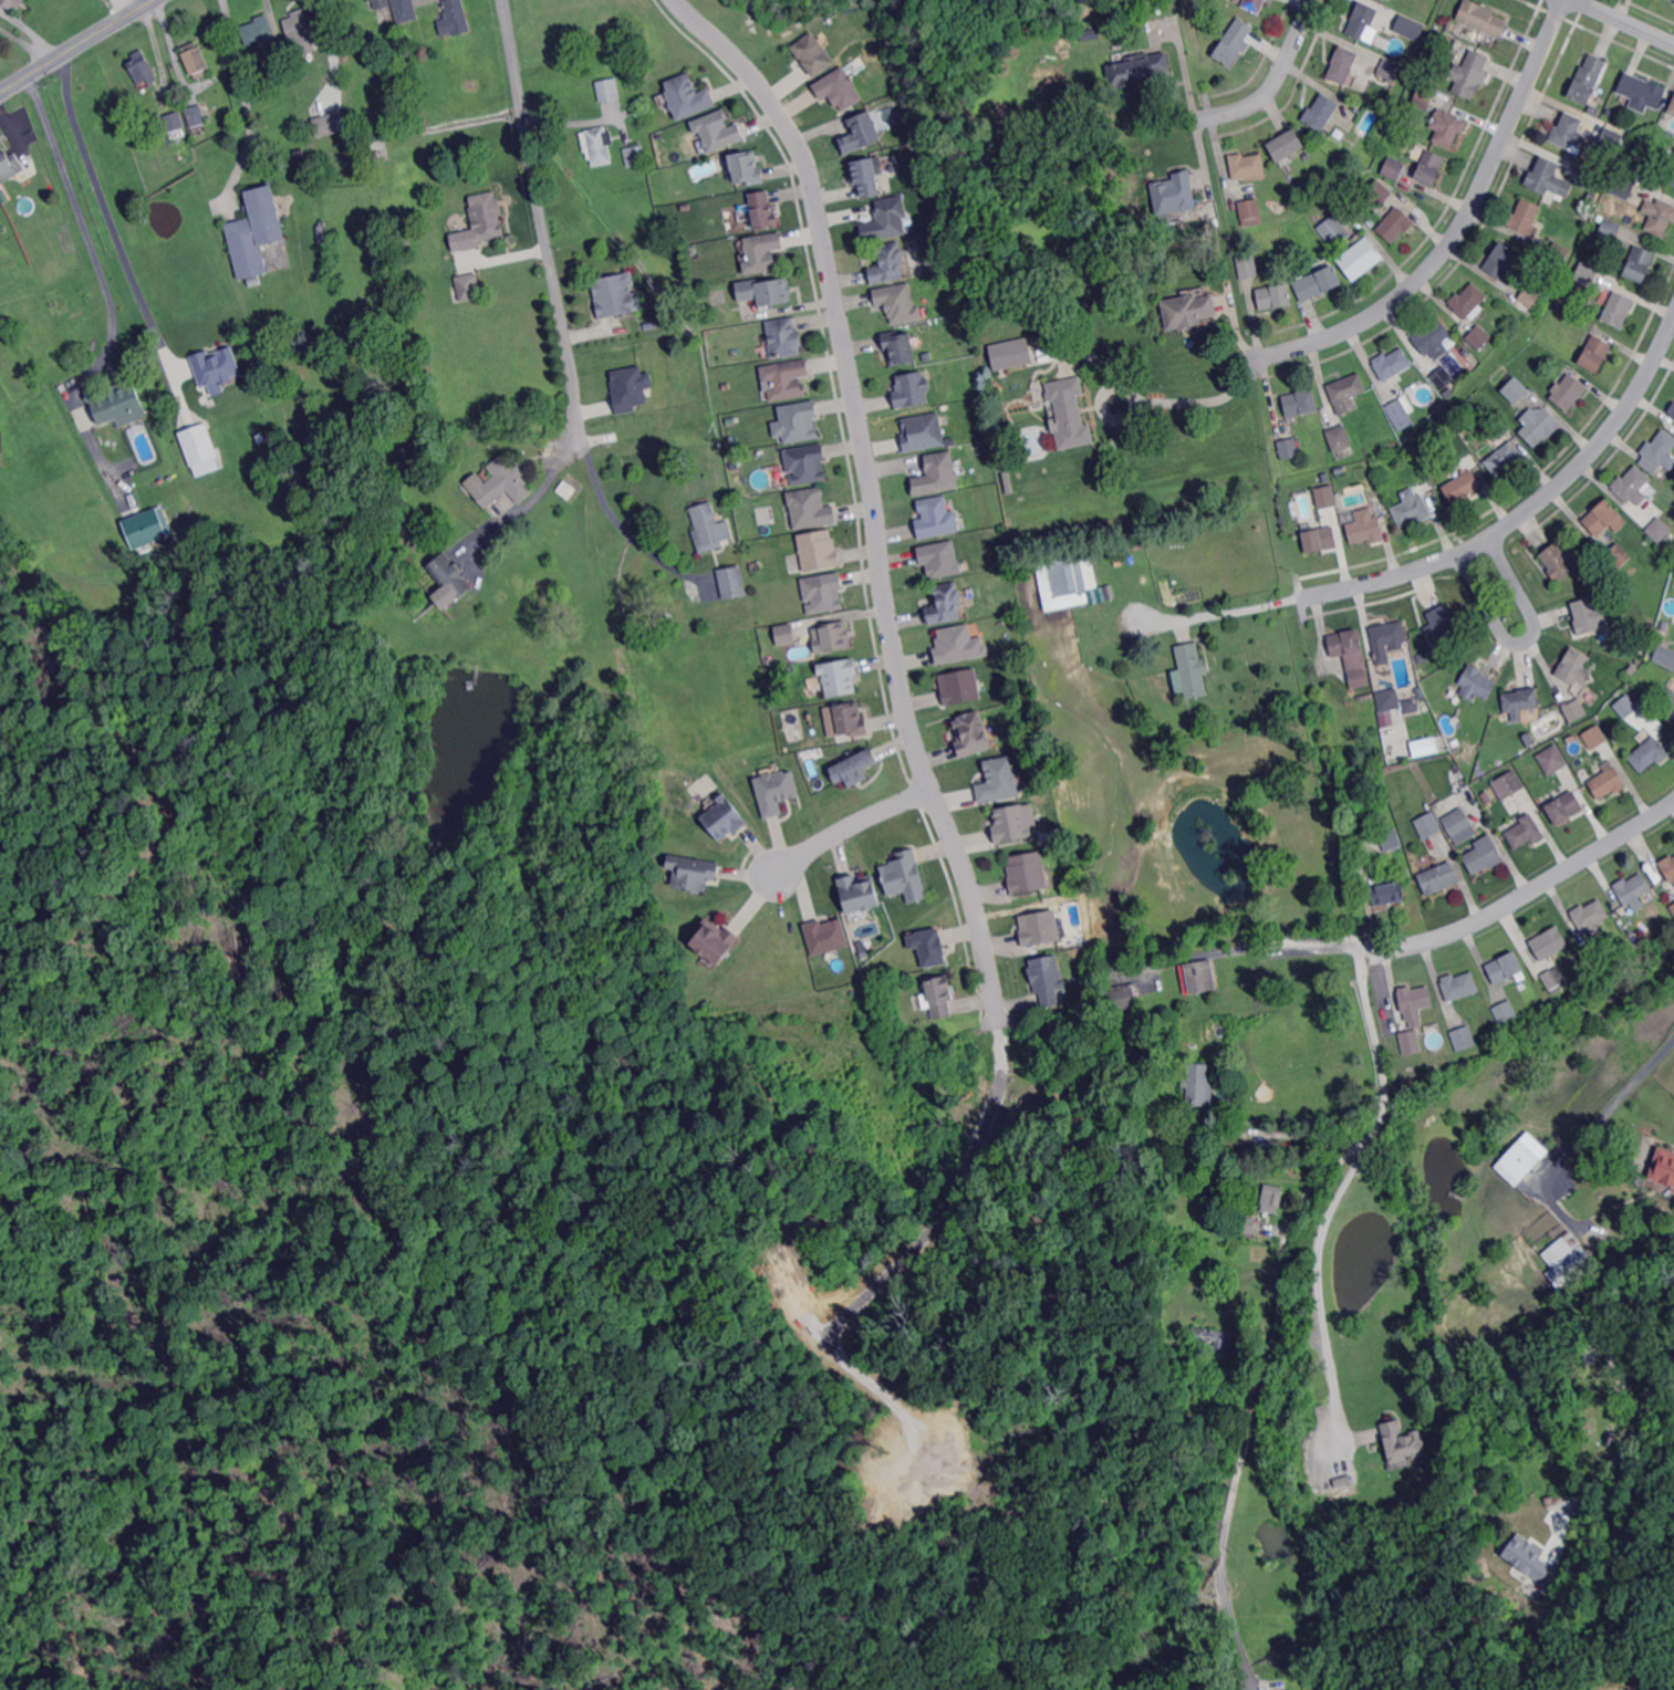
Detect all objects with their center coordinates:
building: (364, 0)
building: (12, 3)
building: (378, 3)
building: (1252, 4)
road: (1591, 6)
building: (403, 10)
building: (1481, 18)
building: (454, 19)
building: (1362, 23)
building: (1453, 24)
road: (1639, 27)
building: (1407, 28)
road: (30, 30)
building: (257, 31)
building: (299, 34)
road: (329, 38)
building: (1233, 43)
road: (74, 44)
building: (813, 53)
road: (158, 56)
building: (195, 61)
building: (1341, 65)
building: (141, 69)
building: (1136, 70)
building: (1390, 70)
building: (1469, 73)
road: (1277, 79)
building: (1588, 80)
building: (839, 88)
building: (606, 91)
building: (1642, 92)
building: (688, 96)
building: (1424, 96)
road: (246, 103)
building: (1672, 108)
building: (1592, 112)
building: (1320, 113)
building: (1610, 113)
building: (194, 118)
building: (173, 122)
building: (326, 124)
building: (1447, 127)
building: (718, 131)
building: (861, 133)
building: (1569, 133)
building: (181, 136)
building: (1611, 140)
building: (1285, 145)
building: (596, 146)
building: (300, 154)
building: (1307, 155)
building: (635, 156)
building: (1343, 160)
building: (1626, 164)
building: (1247, 165)
building: (7, 166)
building: (749, 167)
building: (1431, 167)
building: (1393, 168)
building: (644, 176)
building: (1545, 176)
building: (1671, 176)
building: (867, 177)
building: (1591, 181)
building: (1624, 185)
building: (1173, 194)
building: (1376, 194)
building: (1590, 197)
building: (762, 209)
building: (1250, 210)
building: (1525, 216)
building: (1659, 216)
building: (886, 219)
building: (480, 222)
building: (1371, 223)
building: (1394, 225)
road: (1462, 226)
building: (1609, 228)
road: (544, 230)
building: (1334, 230)
road: (84, 233)
building: (254, 233)
road: (117, 241)
building: (763, 252)
building: (1558, 254)
building: (1359, 259)
building: (1503, 260)
building: (888, 262)
building: (1640, 263)
building: (1246, 265)
building: (1587, 273)
building: (254, 282)
building: (1316, 282)
building: (469, 288)
building: (767, 291)
building: (616, 295)
building: (1275, 296)
building: (1528, 299)
building: (1469, 302)
building: (900, 303)
building: (1619, 309)
building: (1186, 311)
building: (1058, 325)
building: (649, 326)
building: (1480, 336)
building: (784, 337)
building: (1435, 338)
building: (901, 347)
building: (1465, 353)
building: (1595, 353)
building: (1011, 354)
building: (1391, 364)
building: (215, 367)
road: (180, 369)
building: (1524, 371)
building: (787, 378)
building: (1442, 378)
building: (627, 387)
building: (912, 389)
building: (1514, 389)
building: (1347, 392)
building: (1567, 393)
road: (1199, 400)
building: (1300, 404)
building: (119, 405)
building: (1672, 410)
building: (1400, 413)
building: (1068, 414)
building: (794, 420)
building: (1500, 425)
building: (1537, 425)
building: (924, 432)
building: (1339, 438)
building: (198, 448)
building: (1288, 448)
building: (1661, 449)
building: (1504, 458)
building: (808, 463)
building: (1334, 468)
building: (1449, 470)
building: (938, 474)
building: (574, 480)
building: (1008, 480)
building: (499, 482)
building: (1632, 486)
building: (1462, 487)
building: (566, 489)
road: (871, 490)
building: (1325, 495)
building: (811, 508)
building: (1412, 508)
road: (1526, 511)
building: (937, 518)
building: (1604, 518)
road: (615, 520)
building: (146, 525)
building: (710, 528)
building: (1365, 528)
building: (1660, 530)
building: (1319, 540)
building: (820, 551)
building: (1631, 553)
building: (1618, 556)
building: (937, 557)
building: (1664, 557)
building: (1559, 560)
building: (756, 566)
building: (450, 575)
building: (734, 583)
building: (1062, 584)
road: (1497, 586)
building: (824, 593)
building: (947, 603)
road: (1214, 612)
building: (1588, 616)
building: (1443, 625)
building: (786, 635)
building: (1662, 635)
building: (832, 637)
building: (1385, 639)
building: (956, 643)
building: (1639, 646)
building: (1347, 648)
building: (1663, 655)
building: (1574, 667)
building: (1633, 669)
building: (1192, 670)
building: (842, 677)
building: (1358, 678)
building: (1477, 682)
building: (961, 686)
building: (1635, 693)
building: (1625, 697)
building: (1668, 697)
building: (1387, 700)
building: (1520, 701)
building: (1410, 706)
building: (1573, 709)
building: (830, 713)
building: (1671, 717)
building: (854, 719)
building: (975, 734)
building: (1594, 737)
building: (1529, 740)
building: (1564, 747)
building: (1649, 753)
building: (1551, 759)
building: (855, 768)
building: (1000, 780)
building: (1607, 781)
building: (1507, 784)
building: (777, 791)
building: (1564, 807)
building: (726, 816)
building: (1012, 824)
building: (1459, 825)
building: (1426, 826)
building: (1525, 832)
road: (845, 834)
building: (1391, 841)
road: (1505, 843)
building: (1485, 854)
building: (1668, 866)
building: (694, 872)
building: (1028, 873)
building: (1404, 873)
building: (907, 876)
building: (1438, 878)
building: (1634, 890)
building: (863, 893)
building: (1386, 894)
road: (1527, 894)
building: (1672, 909)
building: (1591, 917)
building: (1041, 928)
building: (1657, 932)
building: (824, 935)
building: (717, 941)
building: (1550, 942)
building: (926, 946)
road: (1286, 948)
building: (864, 954)
building: (1507, 968)
building: (1199, 976)
building: (1049, 979)
building: (1552, 980)
building: (1459, 985)
building: (943, 997)
building: (1120, 999)
building: (1414, 1002)
building: (1506, 1011)
building: (1184, 1030)
building: (1463, 1036)
building: (1410, 1042)
building: (1183, 1050)
building: (1197, 1086)
road: (1609, 1102)
road: (1306, 1134)
building: (1225, 1143)
building: (1515, 1162)
building: (1162, 1164)
building: (1663, 1167)
building: (1673, 1189)
building: (1271, 1199)
building: (1215, 1207)
building: (1244, 1228)
road: (1282, 1252)
building: (1570, 1265)
road: (1324, 1285)
building: (1212, 1342)
road: (1626, 1384)
building: (1401, 1442)
building: (1550, 1503)
building: (1527, 1532)
building: (1526, 1556)
building: (1539, 1579)
road: (1236, 1632)

